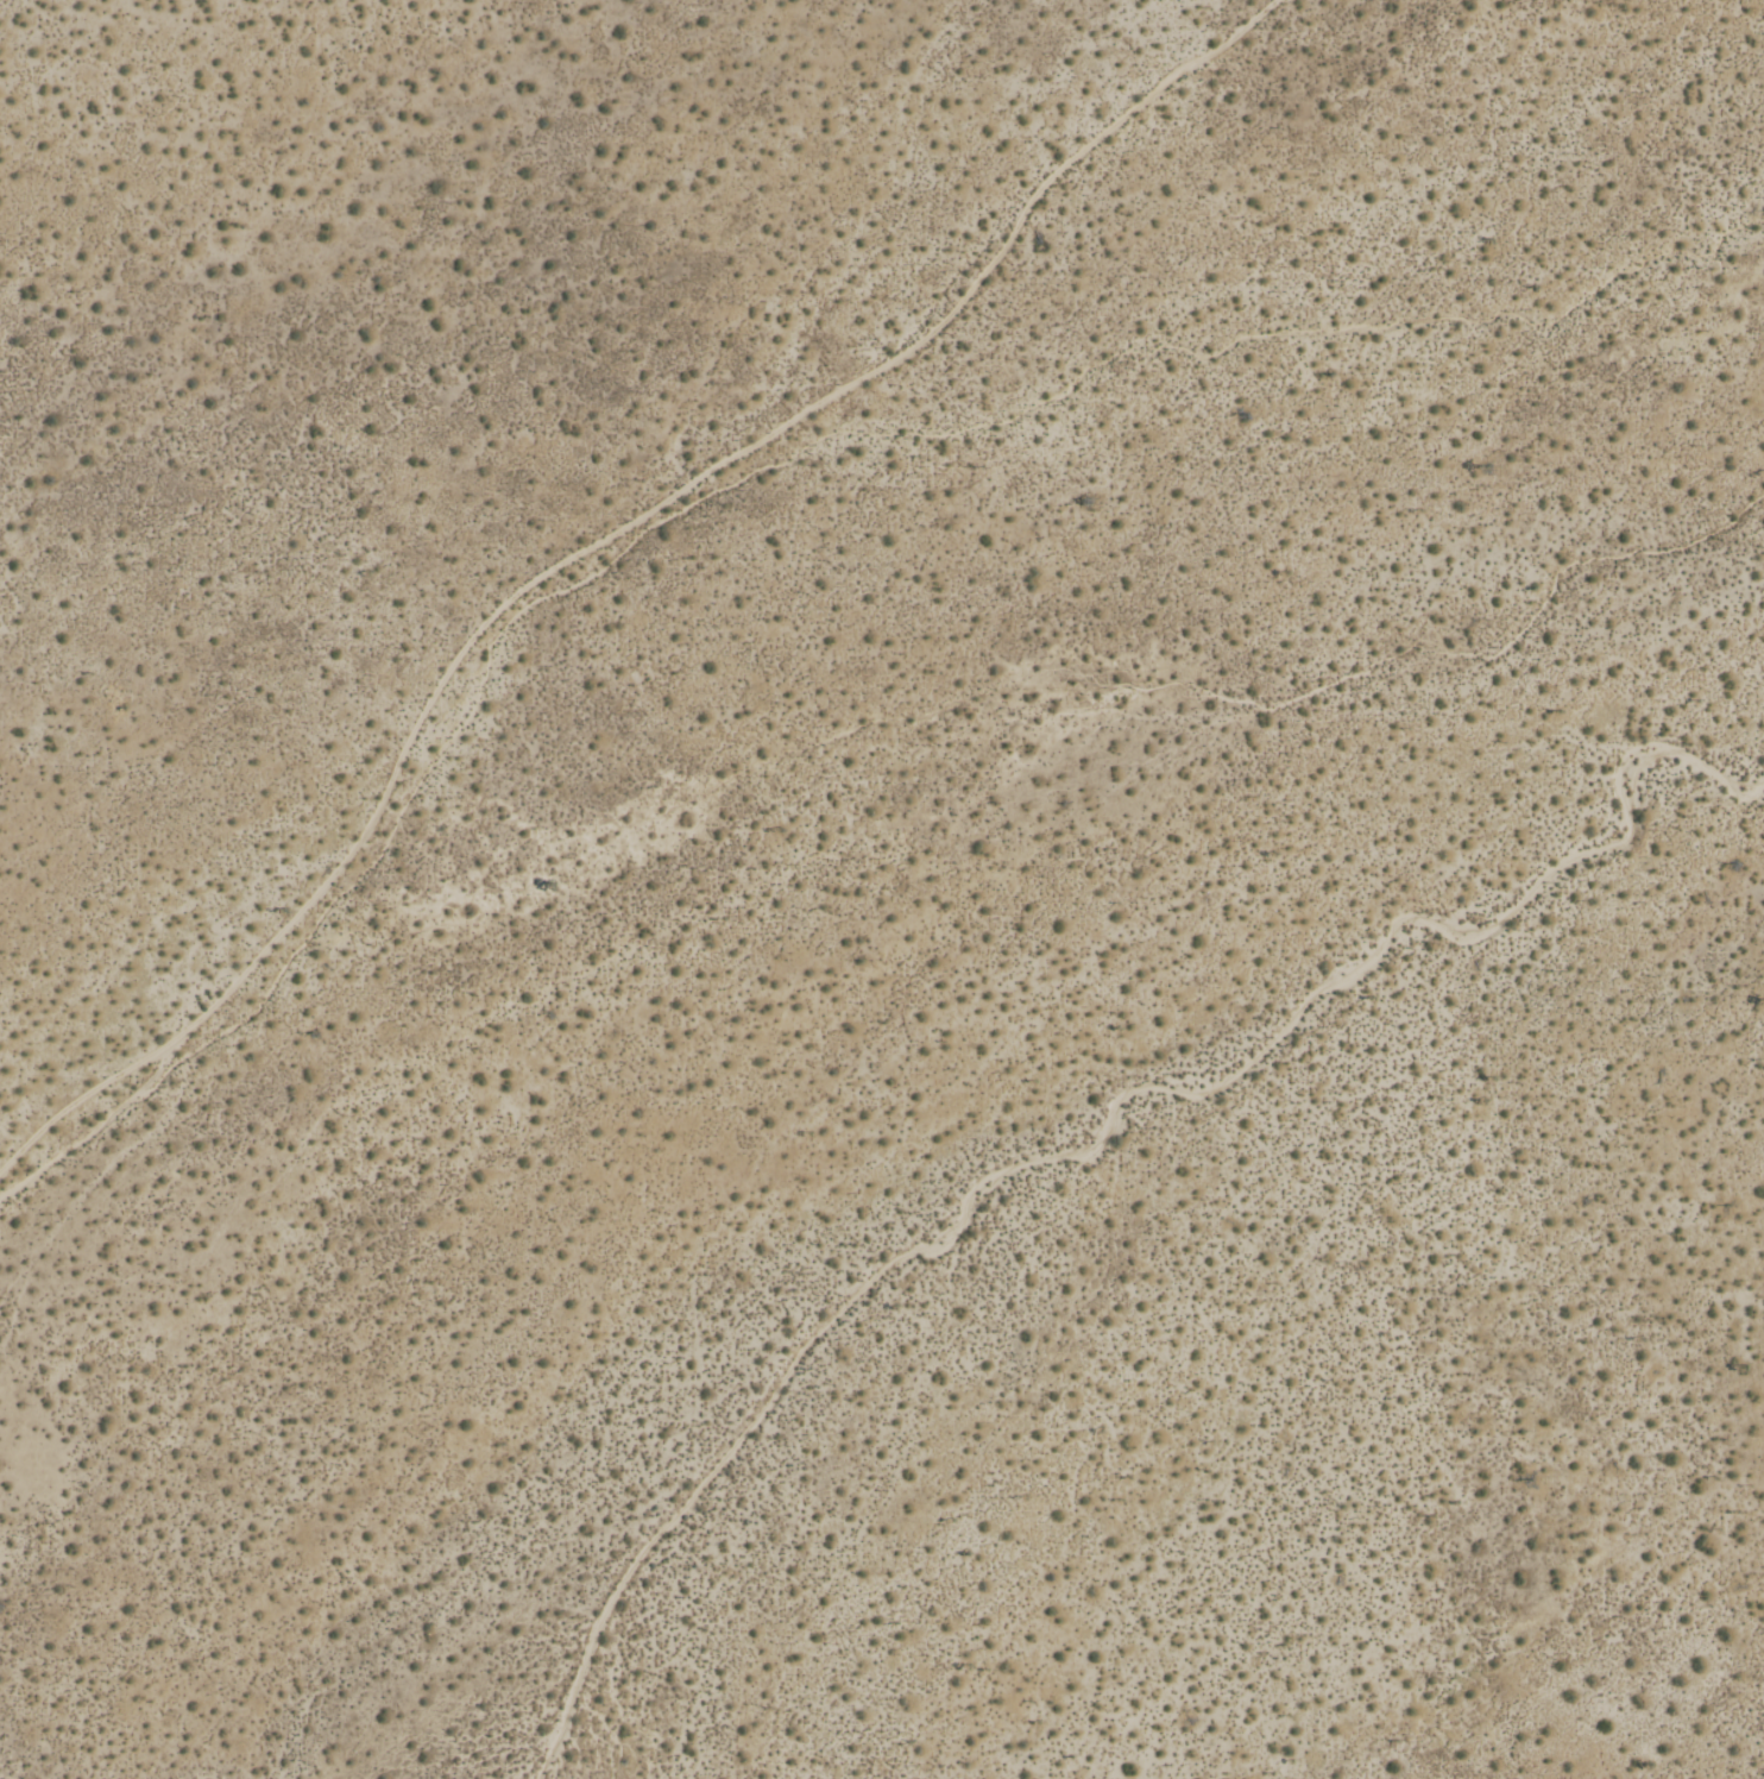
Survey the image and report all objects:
road: (586, 541)

